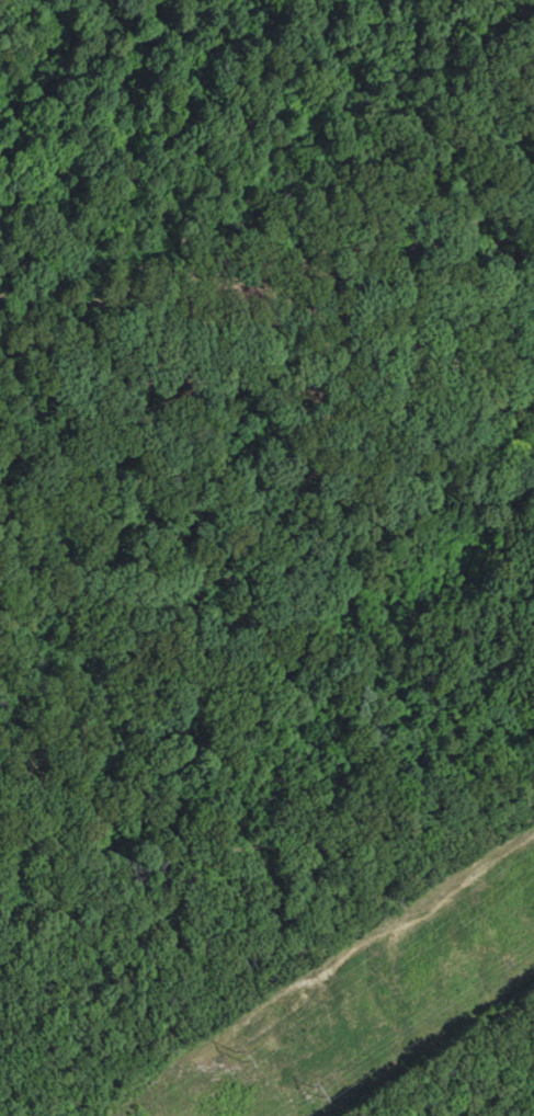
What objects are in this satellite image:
road: (264, 838)
power tower: (232, 1056)
power tower: (310, 1090)

